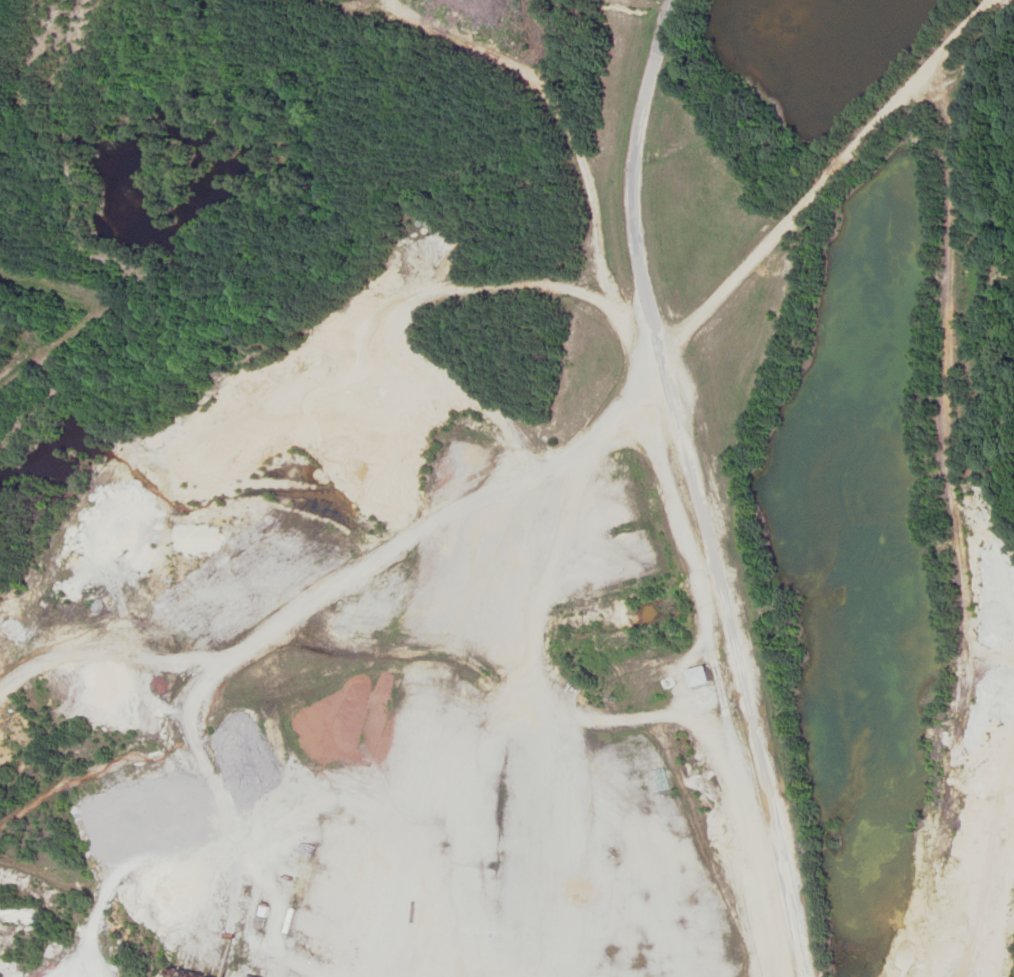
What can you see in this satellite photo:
road: (693, 489)
building: (701, 677)
building: (455, 852)

